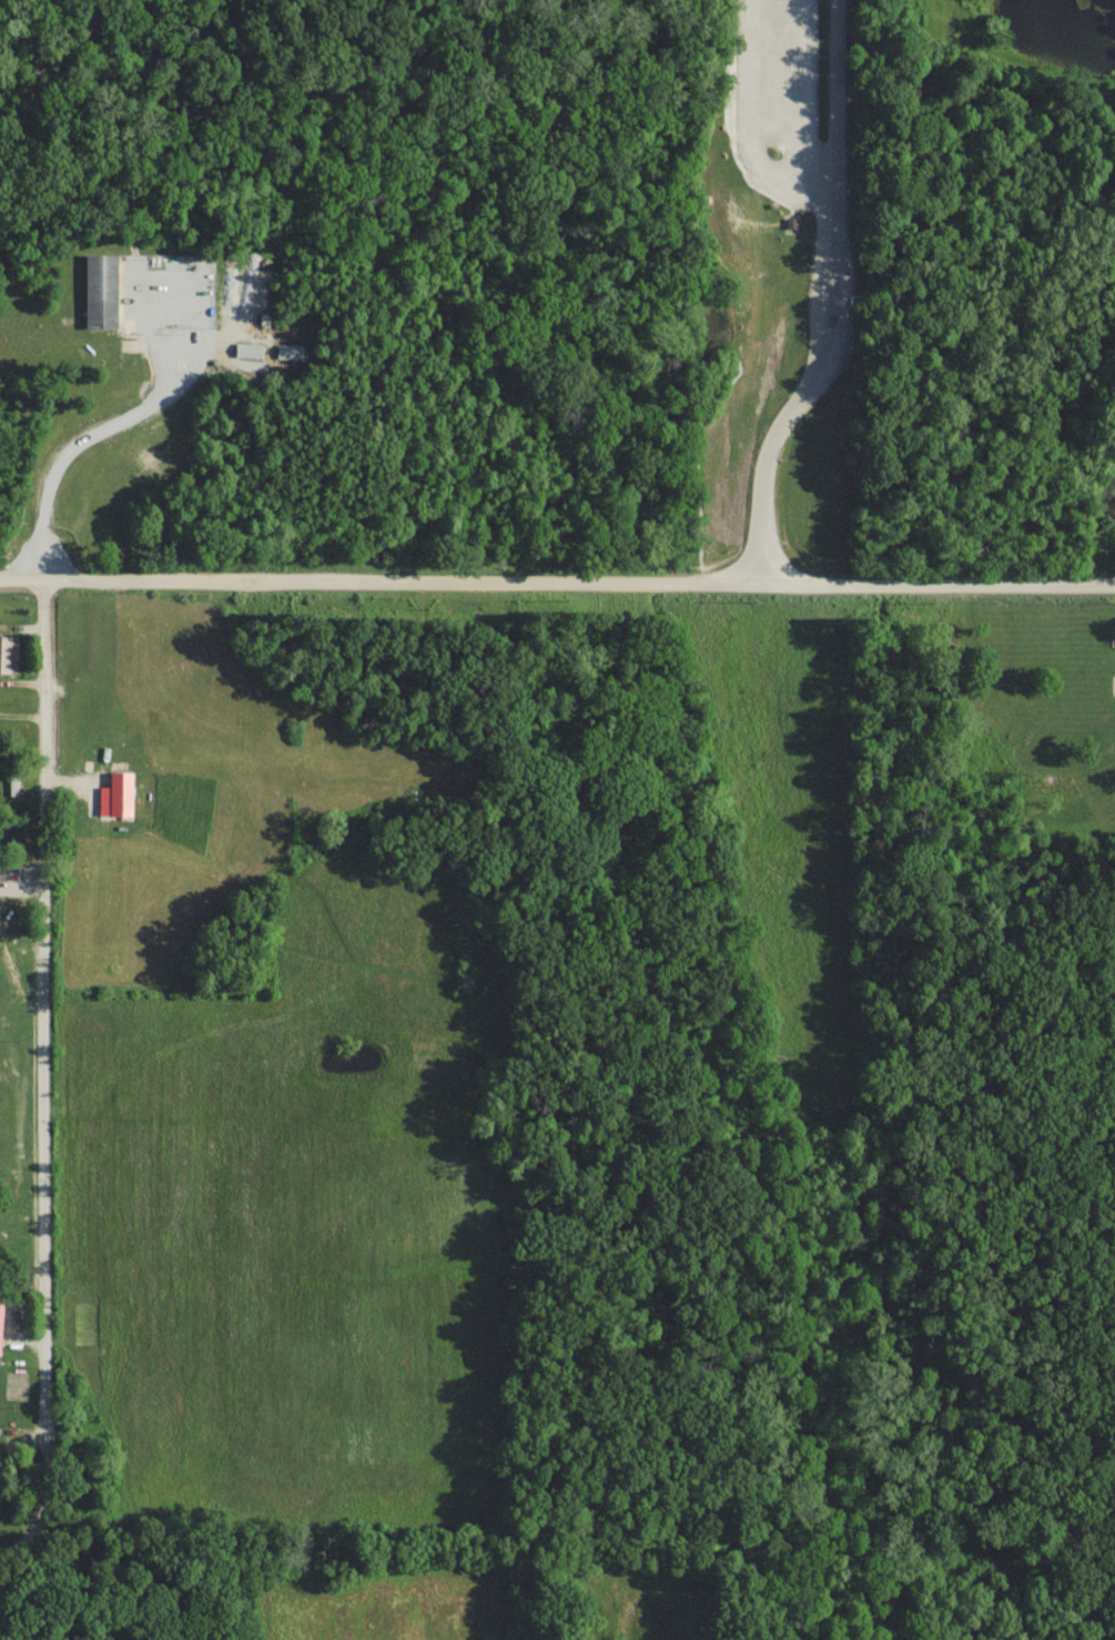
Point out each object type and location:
building: (100, 290)
road: (848, 301)
building: (247, 348)
building: (290, 351)
road: (81, 436)
road: (557, 576)
building: (9, 654)
building: (116, 793)
road: (34, 1065)
building: (0, 1317)

